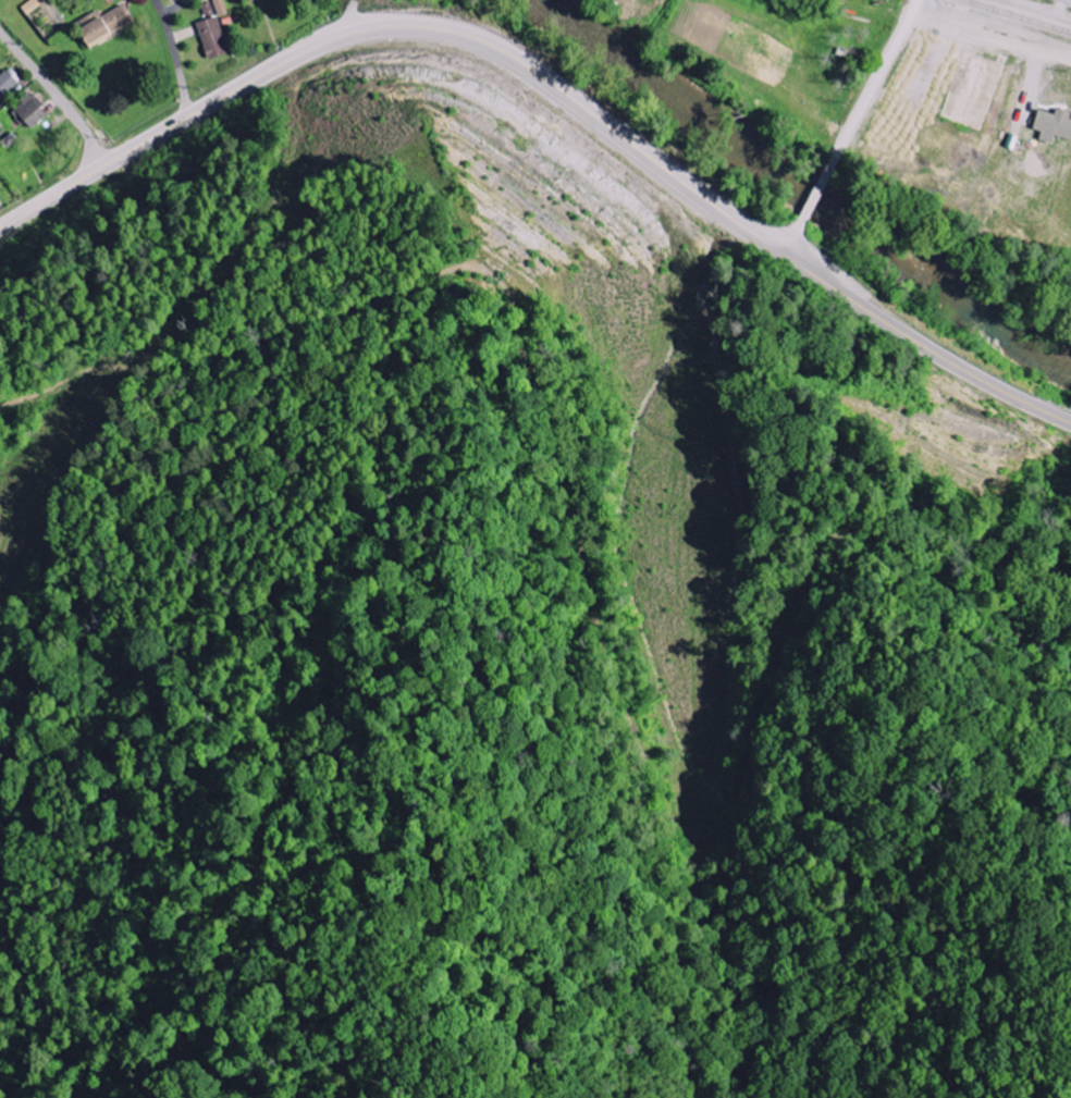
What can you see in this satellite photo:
building: (248, 0)
building: (34, 5)
building: (220, 8)
railway: (1018, 15)
building: (104, 25)
building: (213, 38)
road: (173, 58)
road: (553, 77)
road: (876, 78)
building: (8, 84)
road: (52, 98)
building: (29, 113)
building: (1055, 125)
river: (803, 185)
road: (817, 188)
building: (0, 189)
road: (788, 234)

